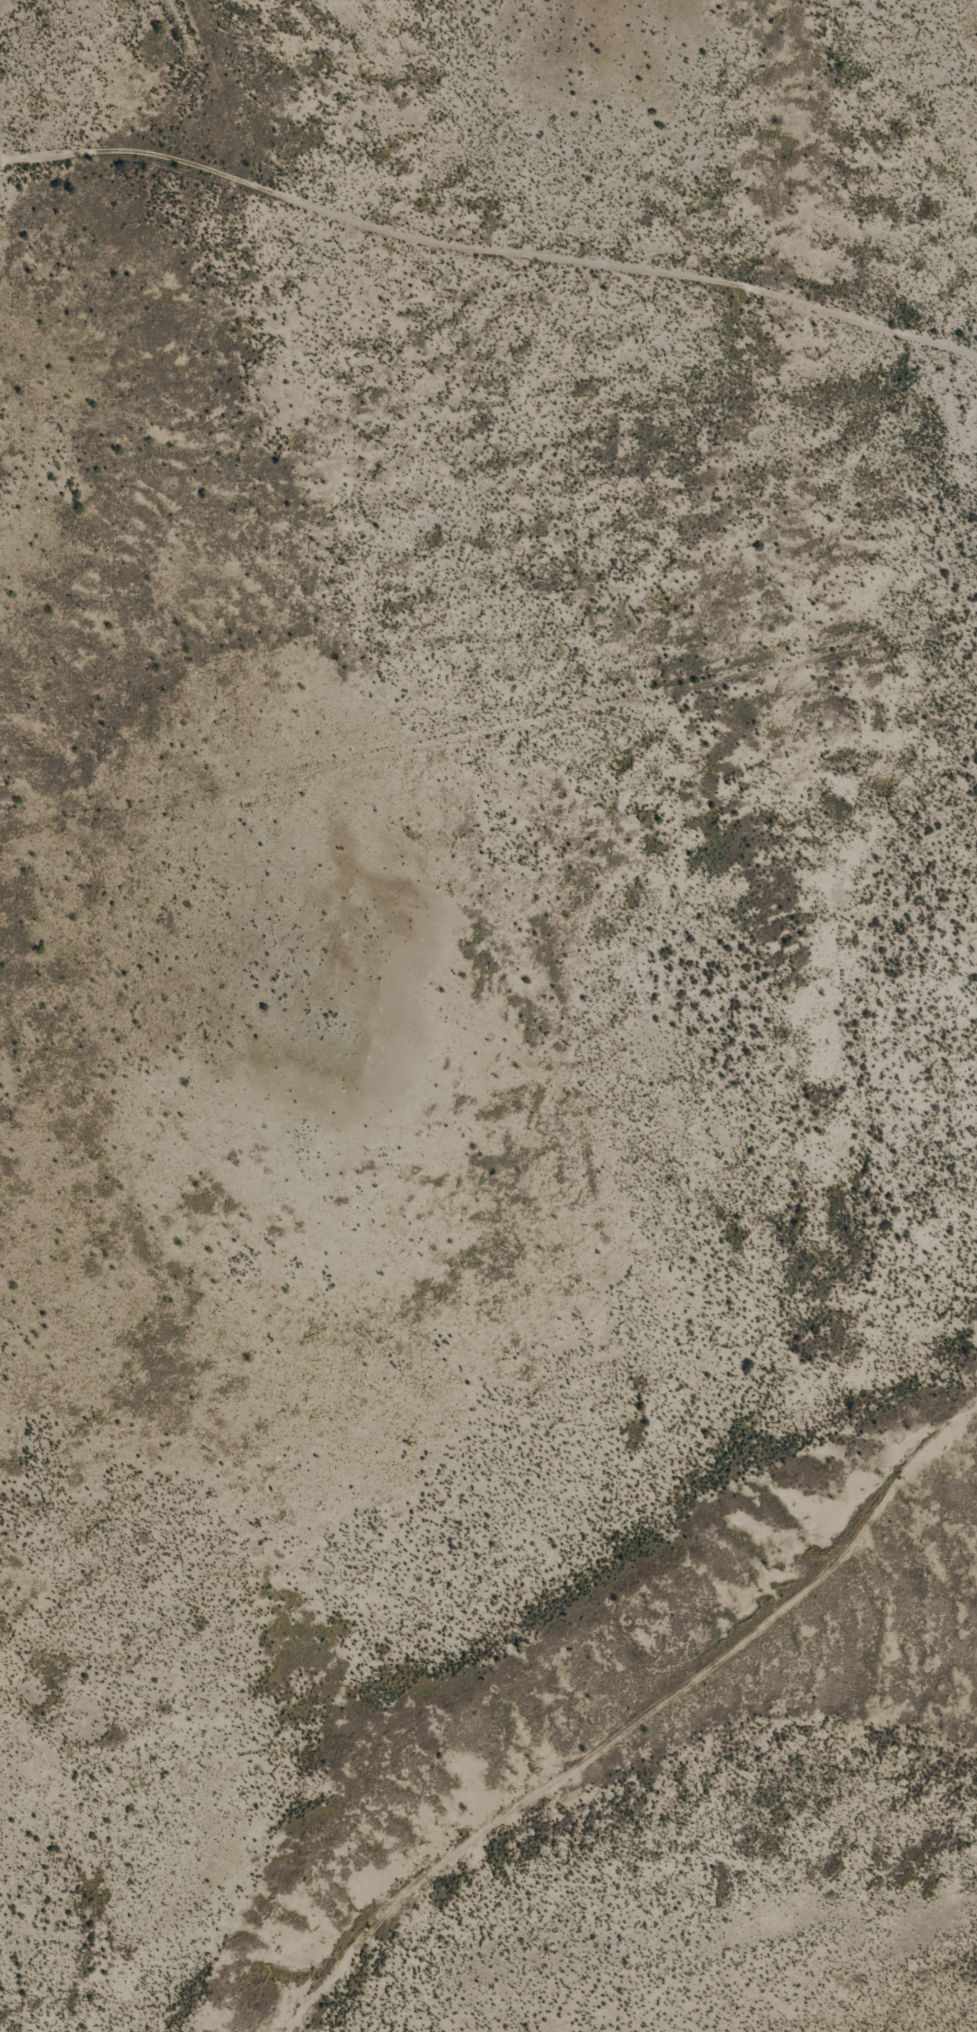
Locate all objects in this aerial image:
road: (494, 238)
road: (650, 1736)

